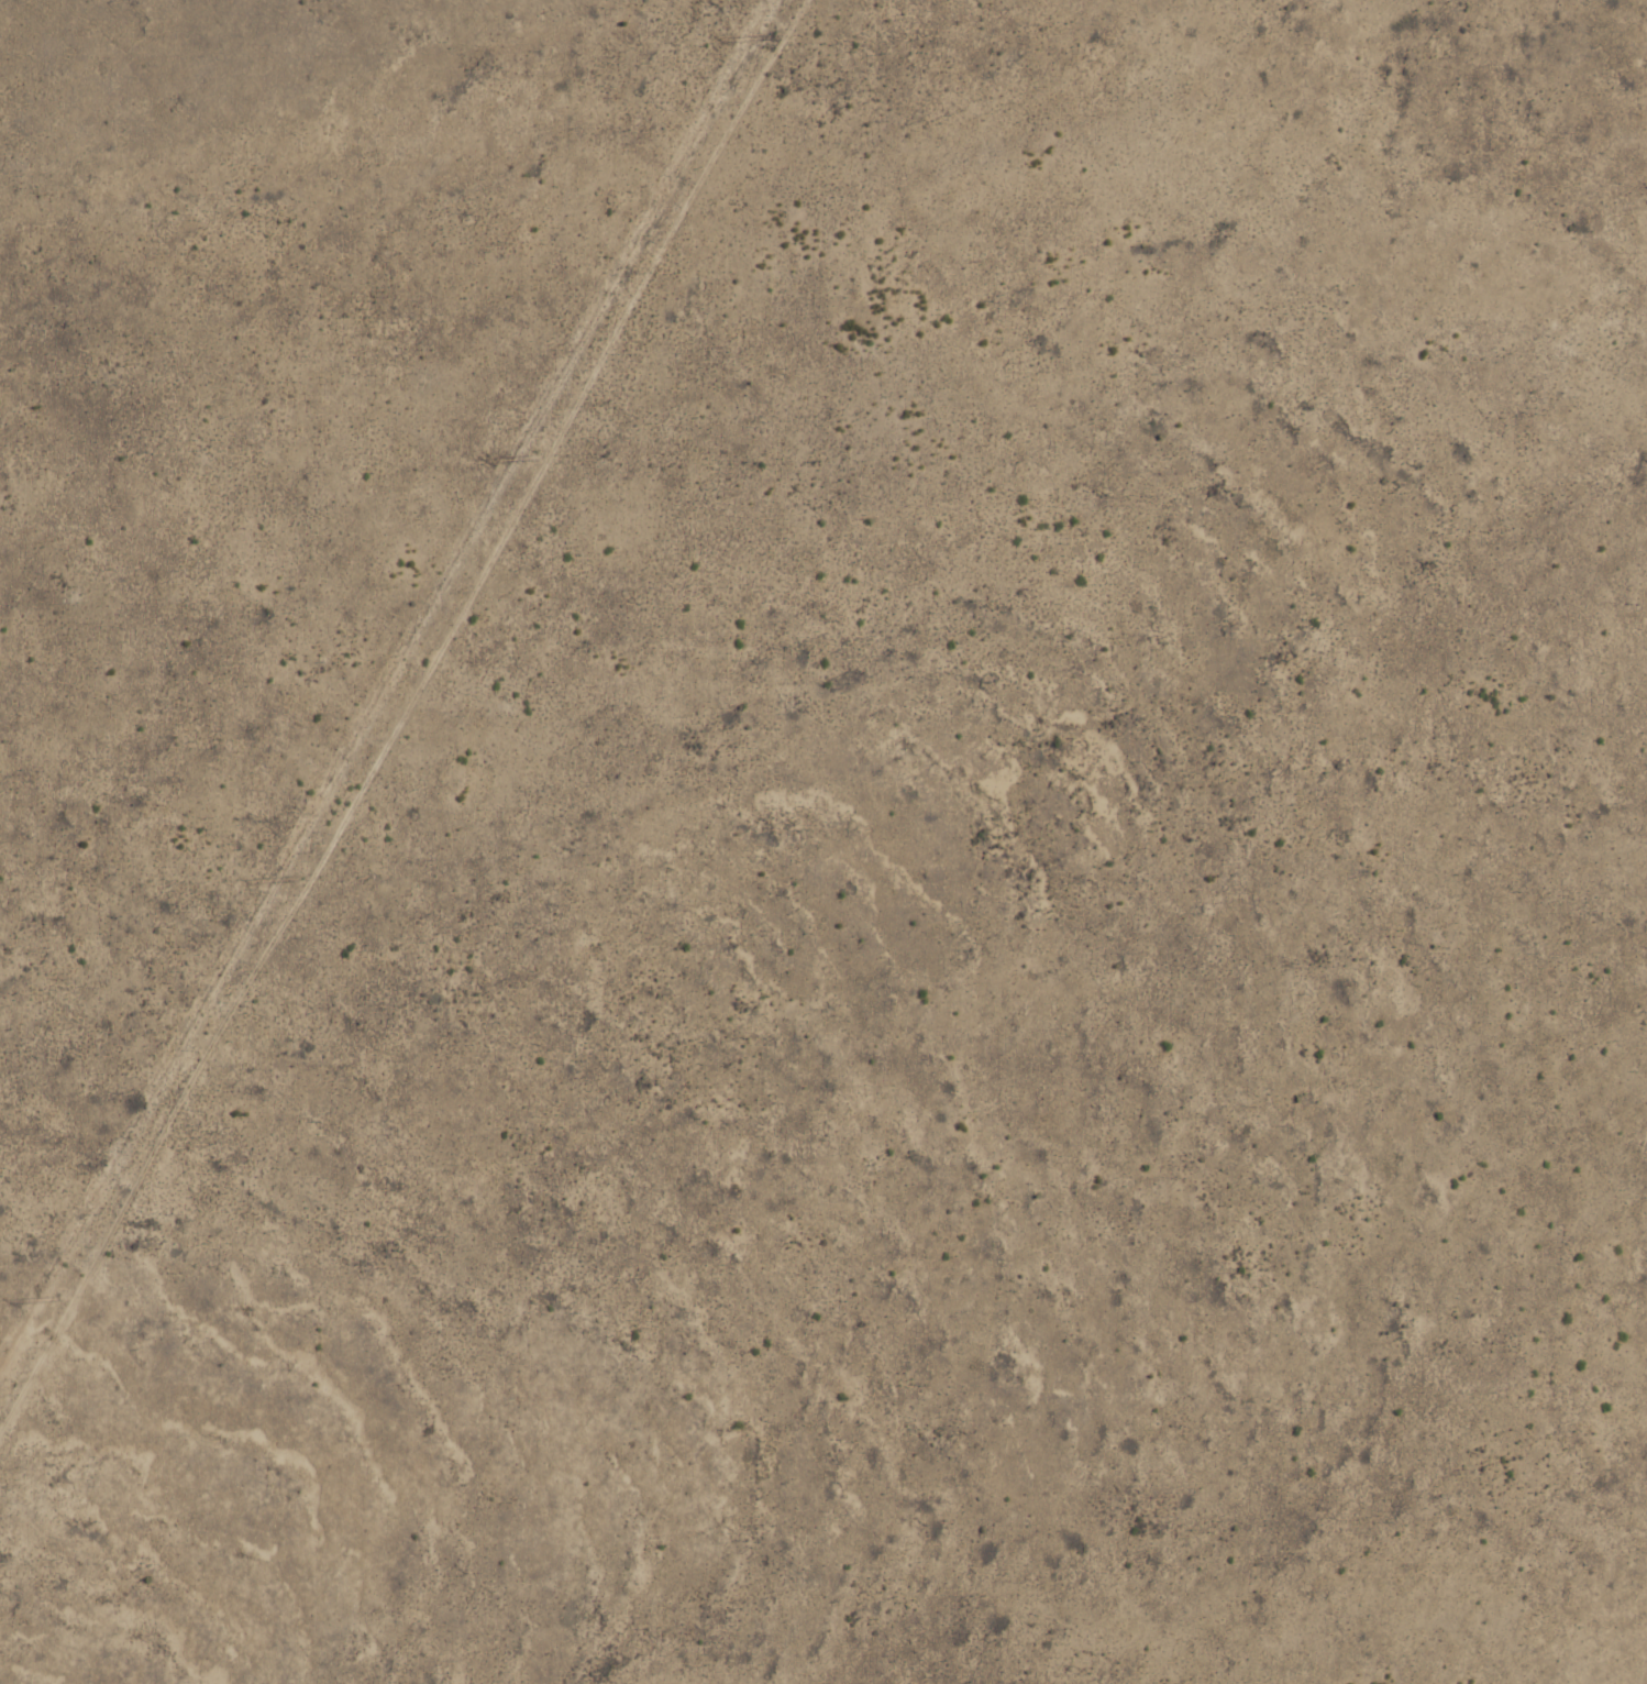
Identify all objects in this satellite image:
road: (406, 713)

